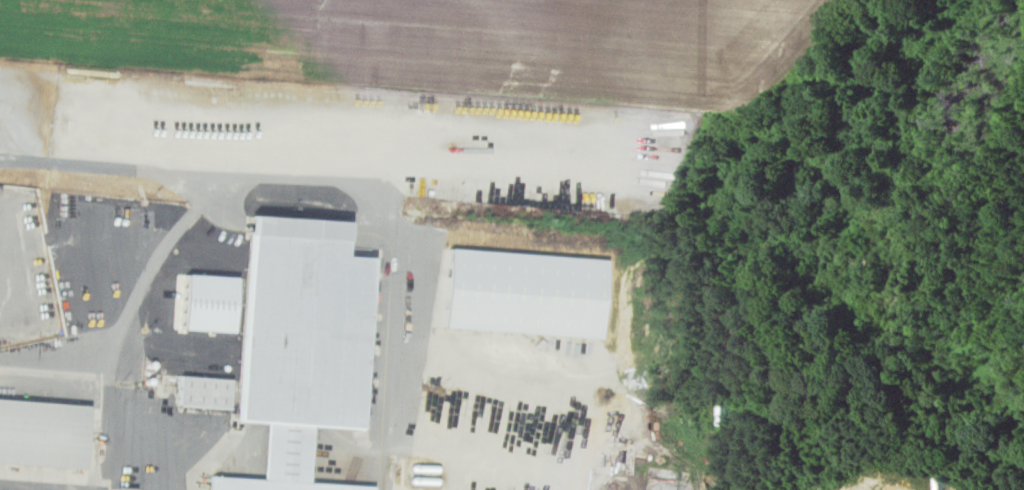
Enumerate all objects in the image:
building: (298, 344)
building: (202, 391)
building: (41, 432)

